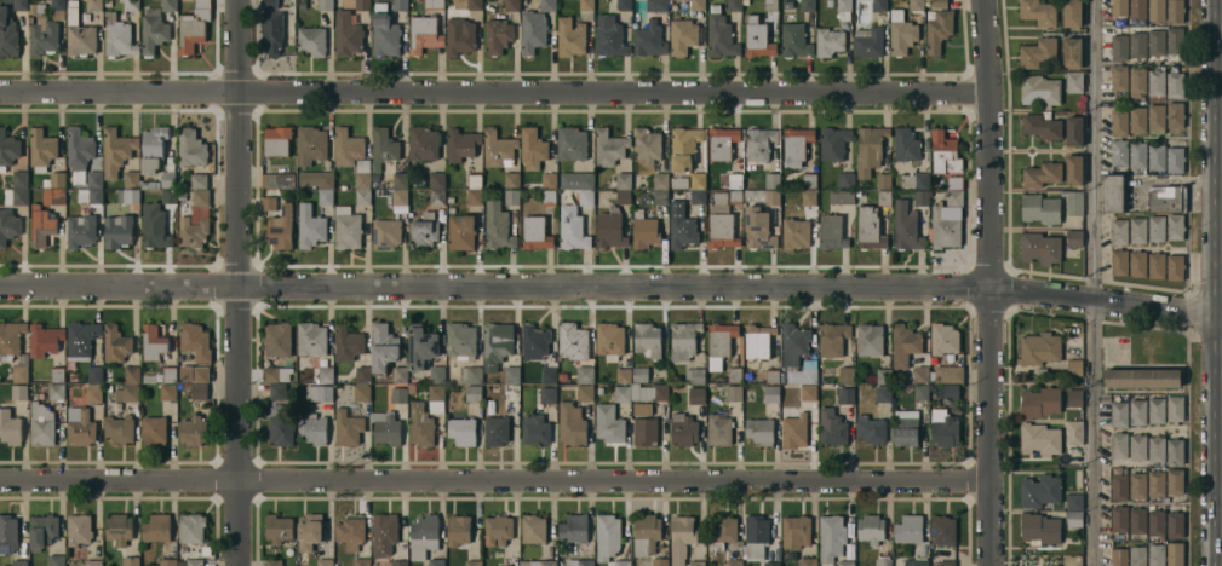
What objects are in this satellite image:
building: (108, 2)
building: (745, 2)
building: (17, 4)
building: (270, 4)
building: (303, 4)
building: (940, 4)
building: (94, 5)
building: (132, 5)
building: (168, 5)
building: (203, 5)
building: (326, 5)
building: (363, 5)
building: (400, 5)
building: (474, 5)
building: (511, 5)
building: (547, 5)
building: (624, 5)
building: (656, 5)
building: (698, 5)
building: (734, 5)
building: (770, 5)
building: (808, 5)
building: (879, 5)
building: (917, 5)
building: (1119, 7)
building: (33, 8)
building: (57, 8)
building: (1138, 8)
building: (586, 10)
building: (844, 10)
building: (1157, 10)
building: (1175, 11)
building: (1038, 12)
building: (1072, 13)
building: (425, 28)
building: (153, 31)
building: (274, 31)
building: (385, 31)
building: (532, 31)
building: (939, 31)
building: (902, 33)
building: (7, 34)
building: (79, 34)
building: (189, 34)
building: (701, 34)
building: (348, 35)
building: (459, 35)
building: (721, 35)
building: (117, 36)
building: (403, 36)
building: (497, 36)
building: (610, 36)
building: (682, 36)
building: (44, 37)
building: (570, 37)
building: (757, 37)
building: (649, 40)
building: (794, 40)
building: (1175, 40)
building: (312, 41)
building: (830, 41)
building: (867, 41)
building: (1157, 42)
building: (1137, 45)
building: (1119, 47)
building: (1038, 52)
building: (1072, 52)
building: (1119, 77)
building: (1137, 80)
building: (1074, 82)
building: (1157, 82)
building: (1175, 85)
building: (1040, 91)
road: (493, 92)
building: (1175, 115)
building: (1155, 119)
building: (1137, 120)
building: (1119, 122)
building: (1042, 126)
building: (1074, 131)
building: (277, 141)
building: (423, 143)
building: (722, 143)
building: (759, 143)
building: (383, 144)
building: (461, 144)
building: (572, 144)
building: (833, 144)
building: (312, 145)
building: (647, 145)
building: (906, 145)
building: (349, 146)
building: (796, 146)
building: (8, 148)
building: (191, 148)
building: (532, 148)
building: (609, 148)
building: (684, 148)
building: (870, 148)
building: (154, 149)
building: (499, 149)
building: (42, 150)
building: (116, 151)
building: (1119, 152)
building: (80, 154)
building: (1138, 155)
building: (1157, 157)
building: (946, 158)
building: (1175, 160)
building: (375, 167)
building: (1074, 169)
building: (170, 174)
building: (363, 174)
building: (1042, 174)
building: (94, 179)
building: (132, 179)
building: (317, 179)
building: (400, 179)
building: (511, 179)
building: (21, 180)
building: (54, 180)
building: (199, 180)
building: (279, 180)
building: (437, 180)
building: (474, 180)
building: (549, 180)
building: (576, 180)
building: (624, 180)
building: (660, 180)
building: (698, 180)
building: (771, 180)
building: (809, 180)
building: (847, 180)
building: (883, 180)
building: (916, 180)
building: (735, 181)
road: (1171, 181)
building: (679, 183)
building: (150, 185)
building: (1114, 192)
building: (16, 196)
building: (53, 196)
building: (90, 196)
building: (130, 196)
building: (170, 196)
building: (325, 196)
building: (389, 196)
building: (400, 196)
building: (437, 196)
building: (474, 196)
building: (511, 196)
building: (624, 196)
building: (661, 196)
building: (699, 196)
building: (763, 196)
building: (363, 197)
building: (549, 197)
building: (809, 197)
building: (847, 197)
building: (449, 198)
building: (584, 198)
building: (834, 198)
building: (884, 198)
building: (922, 198)
building: (954, 198)
building: (1166, 198)
building: (725, 200)
building: (1074, 203)
building: (1040, 208)
building: (451, 209)
building: (196, 221)
building: (279, 221)
building: (8, 226)
building: (41, 226)
building: (154, 226)
building: (681, 226)
building: (1176, 226)
building: (311, 227)
building: (497, 227)
building: (906, 227)
building: (1157, 227)
building: (348, 229)
building: (572, 229)
building: (610, 229)
building: (758, 229)
building: (870, 229)
building: (946, 229)
building: (424, 230)
building: (1138, 230)
building: (81, 231)
building: (119, 231)
building: (460, 231)
building: (644, 231)
building: (722, 231)
building: (1120, 231)
building: (385, 232)
building: (535, 232)
building: (831, 232)
building: (796, 233)
building: (1074, 238)
building: (1040, 248)
building: (1119, 262)
building: (1138, 264)
building: (1157, 265)
building: (1175, 267)
road: (988, 282)
road: (1092, 282)
road: (236, 283)
road: (612, 283)
building: (81, 337)
building: (279, 339)
building: (311, 339)
building: (833, 339)
building: (945, 339)
building: (44, 340)
building: (461, 340)
building: (647, 340)
building: (684, 340)
building: (758, 340)
building: (870, 340)
building: (573, 341)
building: (609, 341)
building: (154, 342)
building: (195, 342)
building: (348, 342)
building: (534, 342)
building: (115, 343)
building: (495, 343)
building: (719, 343)
building: (794, 343)
building: (905, 345)
building: (421, 346)
building: (383, 347)
building: (13, 348)
building: (1039, 348)
building: (1074, 366)
building: (803, 372)
building: (57, 374)
building: (94, 374)
building: (170, 374)
building: (194, 374)
building: (276, 374)
building: (323, 374)
building: (362, 374)
building: (398, 374)
building: (437, 374)
building: (471, 374)
building: (511, 374)
building: (132, 375)
building: (549, 375)
building: (585, 375)
building: (623, 375)
building: (641, 375)
building: (695, 375)
building: (734, 375)
building: (747, 375)
building: (773, 375)
building: (847, 375)
building: (922, 375)
building: (947, 375)
building: (884, 376)
building: (1142, 377)
building: (149, 379)
building: (412, 388)
building: (908, 388)
building: (279, 391)
building: (361, 391)
building: (599, 391)
building: (951, 391)
building: (19, 392)
building: (56, 392)
building: (168, 392)
building: (200, 392)
building: (650, 392)
building: (808, 392)
building: (922, 392)
building: (127, 393)
building: (320, 393)
building: (472, 393)
building: (585, 393)
building: (624, 393)
building: (734, 393)
building: (770, 393)
building: (93, 394)
building: (883, 394)
building: (397, 395)
building: (547, 395)
building: (698, 395)
building: (847, 395)
building: (510, 398)
building: (1074, 398)
building: (436, 399)
building: (1040, 402)
building: (642, 409)
building: (1175, 409)
building: (1157, 410)
building: (1137, 412)
building: (1119, 414)
building: (572, 423)
building: (609, 423)
building: (41, 424)
building: (420, 426)
building: (80, 427)
building: (281, 427)
building: (348, 427)
building: (906, 427)
building: (10, 428)
building: (386, 428)
building: (719, 428)
building: (832, 428)
building: (945, 428)
building: (119, 429)
building: (314, 429)
building: (534, 429)
building: (684, 429)
building: (794, 429)
building: (871, 429)
building: (154, 431)
building: (194, 431)
building: (495, 431)
building: (646, 431)
building: (761, 431)
building: (461, 432)
building: (1074, 432)
building: (1039, 439)
building: (1119, 445)
building: (1137, 447)
building: (1157, 450)
building: (1175, 451)
road: (494, 479)
building: (1175, 481)
building: (1155, 483)
building: (1137, 484)
building: (1119, 487)
building: (1040, 491)
building: (1074, 502)
building: (1074, 519)
building: (1119, 519)
building: (1138, 520)
building: (1157, 522)
building: (1175, 525)
building: (157, 527)
building: (193, 527)
building: (1040, 527)
building: (119, 529)
building: (279, 529)
building: (498, 529)
building: (533, 529)
building: (574, 529)
building: (871, 529)
building: (910, 529)
building: (79, 530)
building: (458, 530)
building: (942, 530)
building: (42, 531)
building: (309, 531)
building: (796, 531)
building: (350, 532)
building: (722, 532)
building: (383, 533)
building: (7, 535)
building: (647, 535)
building: (423, 536)
building: (756, 537)
building: (831, 537)
building: (682, 538)
building: (609, 539)
building: (1157, 554)
building: (1175, 554)
building: (1138, 556)
building: (1119, 558)
building: (57, 560)
building: (131, 561)
building: (194, 561)
building: (809, 561)
building: (19, 562)
building: (94, 562)
building: (167, 562)
building: (272, 562)
building: (323, 562)
building: (361, 562)
building: (436, 562)
building: (472, 562)
building: (539, 562)
building: (579, 562)
building: (660, 562)
building: (734, 562)
building: (883, 562)
building: (916, 562)
building: (947, 562)
building: (398, 564)
building: (698, 564)
building: (771, 564)
building: (844, 564)
building: (507, 565)
building: (1044, 565)
building: (1049, 565)

